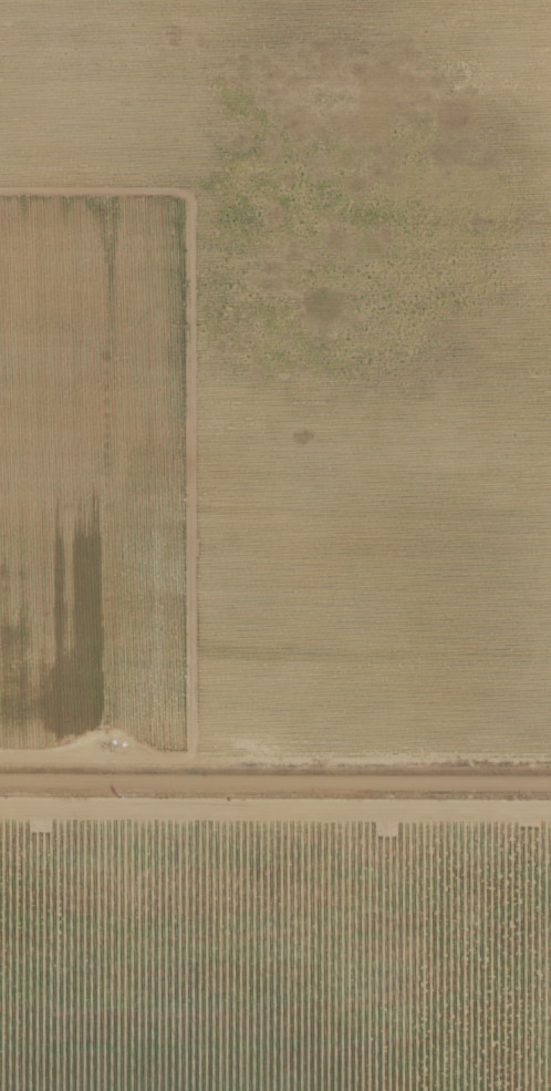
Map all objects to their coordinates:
road: (275, 785)

